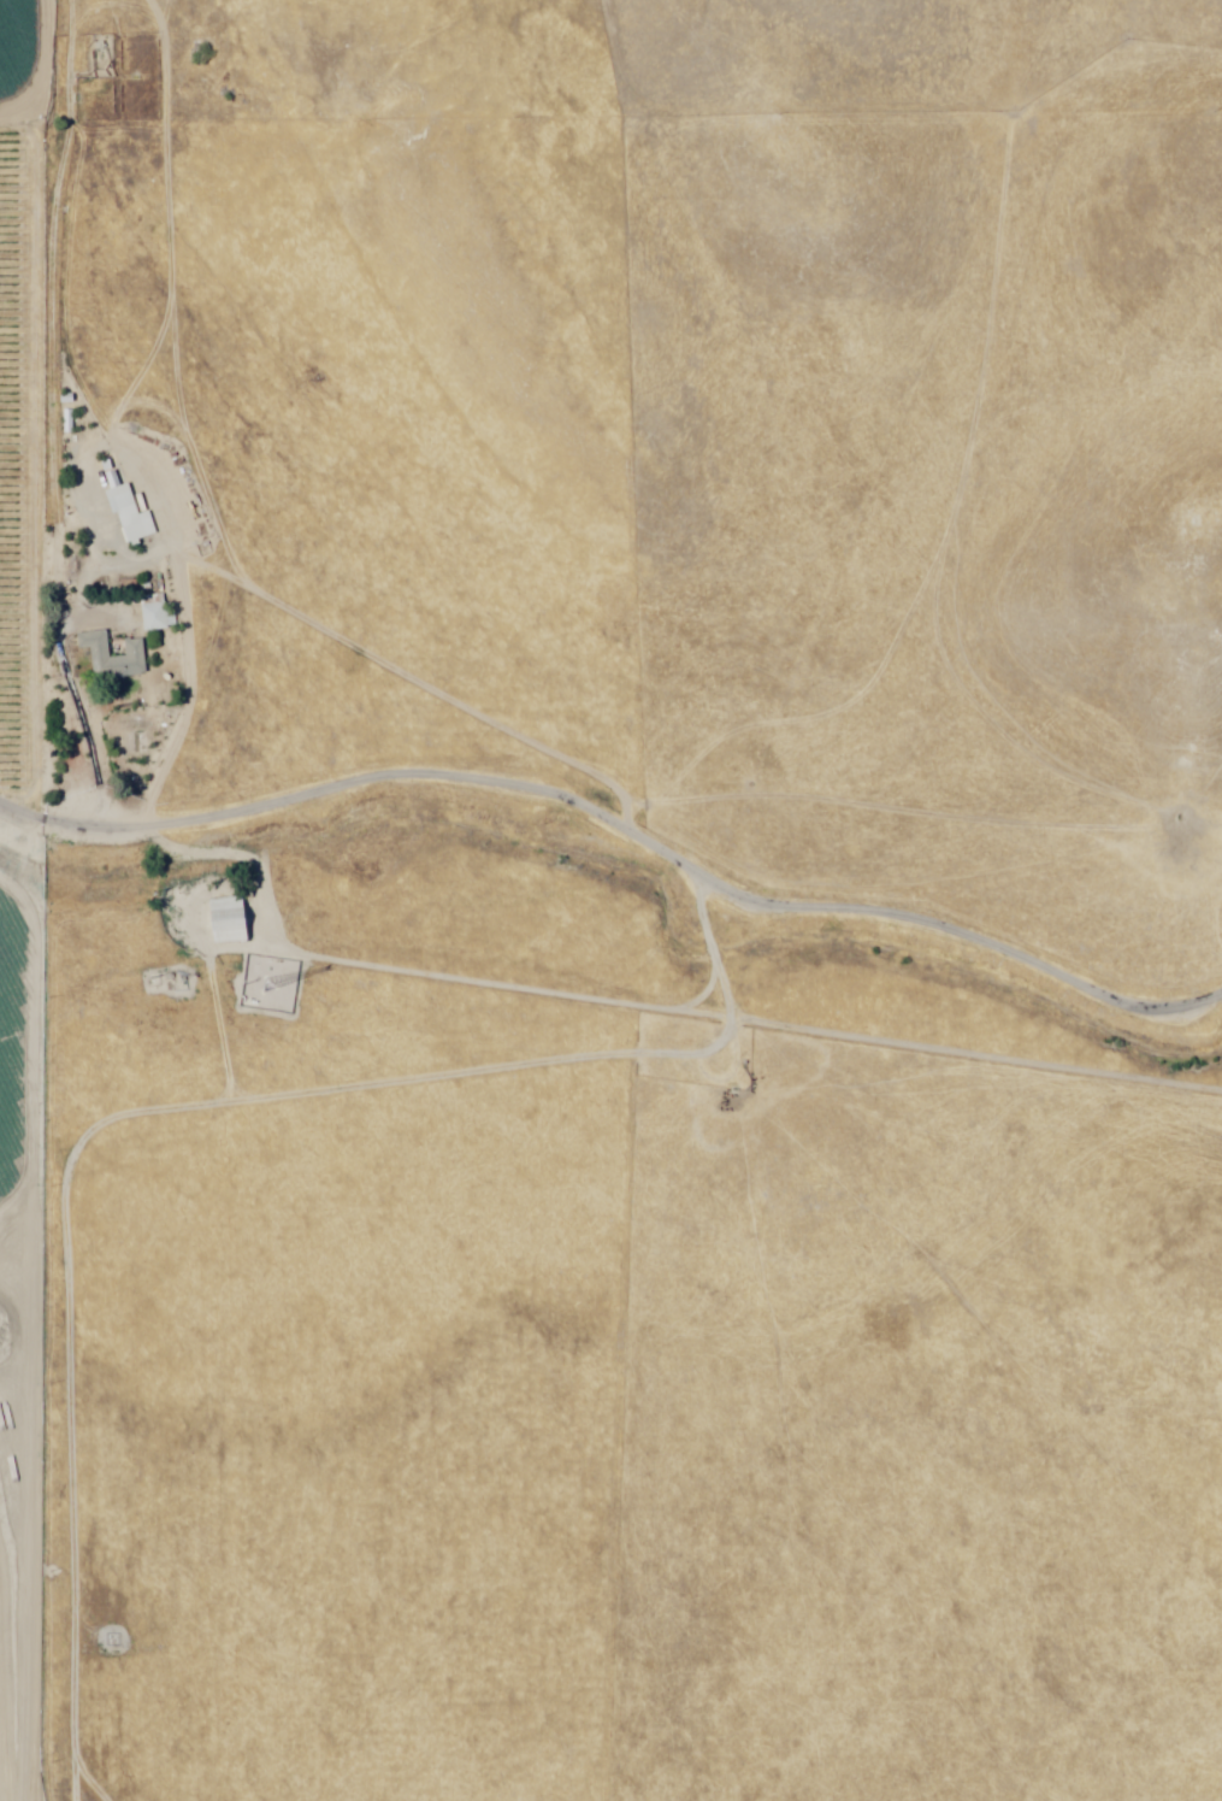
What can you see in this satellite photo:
road: (53, 404)
road: (455, 418)
building: (123, 512)
building: (155, 618)
building: (131, 654)
road: (20, 805)
crop: (4, 817)
road: (616, 899)
building: (224, 922)

